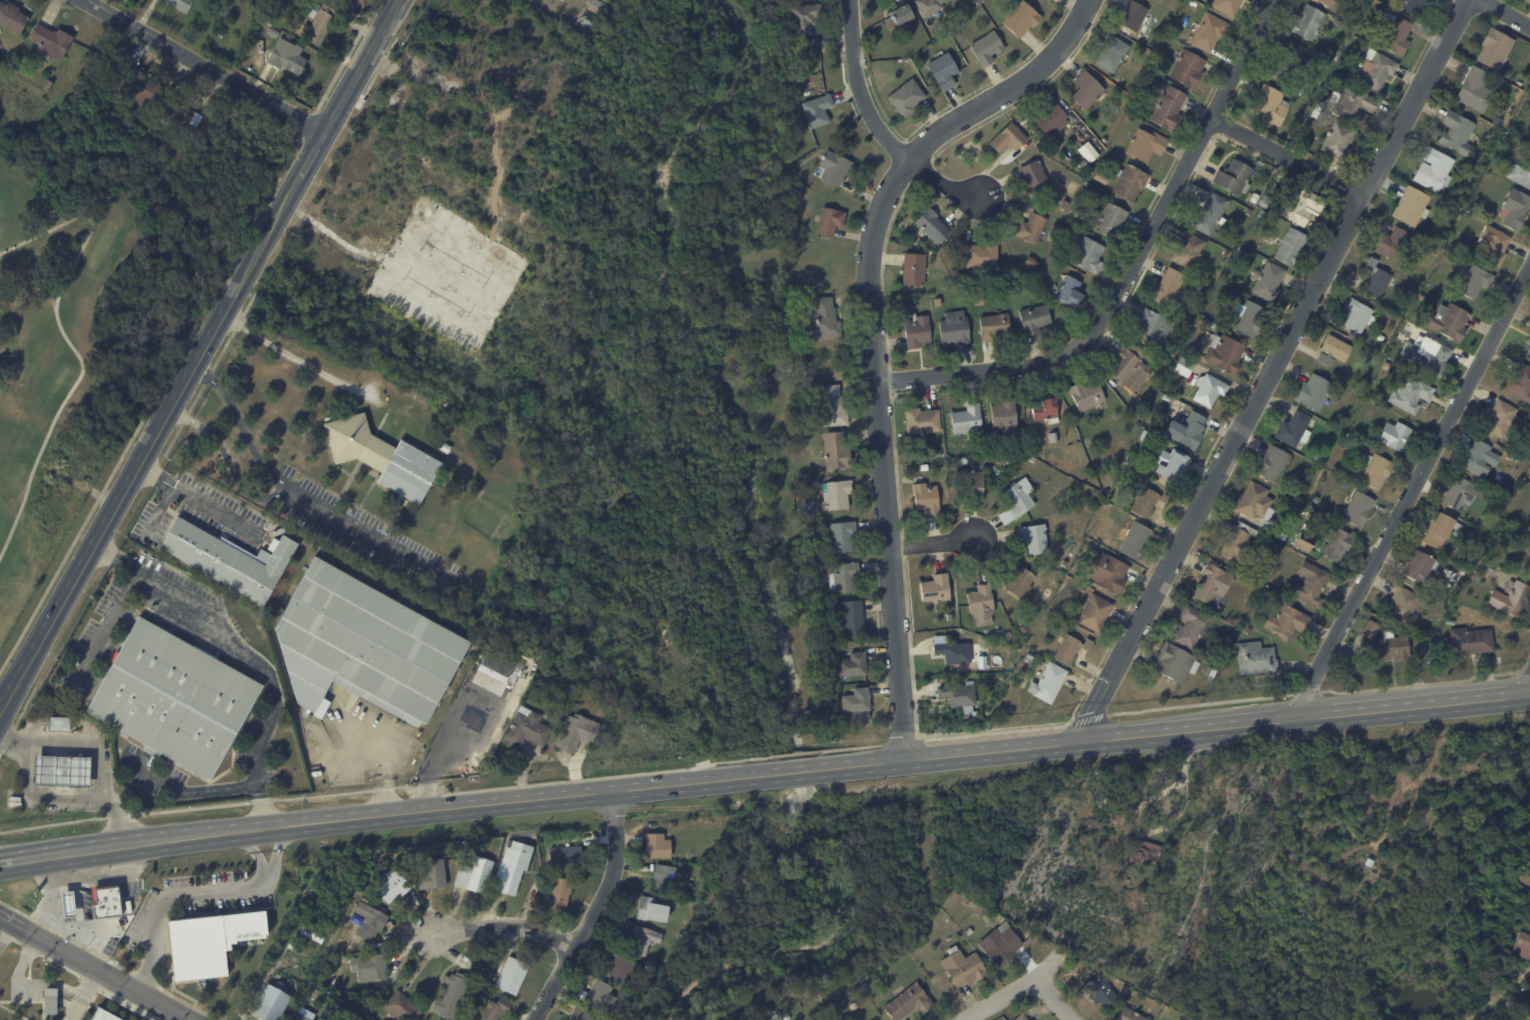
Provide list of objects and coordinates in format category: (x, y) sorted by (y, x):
building: (563, 0)
building: (1051, 0)
building: (978, 2)
building: (1328, 3)
building: (176, 4)
building: (1227, 6)
building: (221, 7)
building: (1415, 7)
building: (929, 8)
building: (310, 9)
road: (1510, 10)
building: (963, 11)
building: (592, 13)
building: (901, 16)
building: (1132, 16)
building: (11, 18)
building: (803, 19)
building: (1021, 20)
building: (565, 23)
building: (1309, 23)
building: (318, 26)
building: (264, 29)
building: (1209, 33)
building: (1395, 33)
building: (217, 35)
building: (780, 35)
building: (49, 43)
building: (810, 44)
building: (787, 46)
building: (1495, 48)
building: (986, 49)
building: (1141, 49)
building: (1111, 54)
building: (6, 58)
building: (286, 61)
building: (1289, 63)
building: (14, 65)
road: (201, 68)
building: (1188, 69)
building: (1375, 71)
building: (943, 72)
building: (1338, 78)
building: (48, 85)
road: (857, 87)
building: (137, 88)
building: (1475, 89)
building: (1086, 91)
building: (1305, 91)
building: (1505, 94)
building: (906, 99)
building: (1271, 106)
building: (1352, 106)
building: (1320, 108)
building: (1168, 110)
building: (817, 112)
building: (181, 113)
building: (1316, 115)
building: (1050, 120)
building: (1457, 132)
building: (1008, 139)
building: (1338, 142)
building: (1146, 146)
building: (1088, 153)
building: (1472, 153)
road: (1289, 158)
building: (834, 169)
building: (1434, 169)
building: (1520, 175)
building: (1033, 177)
building: (1234, 177)
building: (1468, 177)
building: (1101, 179)
road: (940, 180)
building: (1272, 182)
building: (1129, 183)
building: (1073, 188)
building: (1255, 198)
building: (1264, 200)
building: (1299, 203)
building: (1064, 206)
building: (1411, 206)
building: (1515, 209)
building: (1262, 213)
building: (1209, 214)
building: (1075, 215)
building: (830, 222)
building: (1111, 222)
building: (1056, 226)
building: (797, 227)
building: (932, 227)
building: (1031, 229)
building: (1435, 234)
building: (1051, 238)
building: (1393, 242)
building: (1494, 245)
building: (1291, 246)
building: (1424, 248)
building: (1188, 250)
building: (1241, 250)
building: (1227, 253)
building: (1089, 256)
building: (982, 258)
building: (1031, 264)
road: (1130, 268)
building: (913, 271)
building: (955, 274)
building: (1377, 279)
building: (1269, 281)
building: (1473, 281)
building: (1169, 287)
building: (1200, 292)
building: (1069, 293)
building: (937, 303)
building: (1358, 315)
building: (1251, 318)
building: (822, 319)
building: (1034, 320)
building: (1448, 321)
building: (1213, 325)
building: (1154, 327)
building: (994, 328)
building: (954, 329)
building: (917, 332)
road: (870, 333)
park: (48, 337)
building: (1381, 337)
road: (68, 342)
building: (1529, 342)
building: (1334, 350)
building: (1529, 350)
building: (1225, 353)
building: (1428, 355)
road: (198, 358)
road: (297, 358)
building: (1387, 365)
building: (1131, 366)
building: (1183, 366)
road: (1273, 373)
building: (1520, 383)
building: (1209, 389)
building: (1314, 392)
building: (1087, 395)
building: (1410, 395)
building: (1166, 398)
building: (831, 406)
building: (1045, 410)
building: (1141, 414)
building: (1004, 415)
building: (1151, 416)
building: (967, 419)
building: (1503, 419)
building: (922, 420)
road: (243, 422)
building: (1148, 423)
building: (1188, 430)
building: (1295, 430)
building: (1144, 433)
building: (1396, 436)
building: (1054, 437)
building: (444, 447)
building: (835, 450)
building: (935, 454)
road: (226, 456)
building: (383, 457)
building: (1318, 458)
building: (1480, 458)
building: (1273, 463)
building: (1172, 465)
building: (924, 467)
building: (1376, 471)
building: (445, 481)
building: (971, 481)
building: (818, 487)
building: (1459, 491)
building: (837, 495)
building: (1299, 496)
building: (926, 498)
road: (195, 499)
road: (1420, 499)
building: (1018, 500)
building: (1148, 501)
building: (1257, 505)
building: (1108, 506)
road: (159, 510)
building: (1359, 510)
parking lot: (204, 514)
building: (1311, 515)
building: (1485, 526)
building: (1474, 527)
building: (1442, 530)
road: (359, 532)
parking lot: (365, 535)
building: (1282, 535)
building: (841, 536)
building: (1035, 539)
building: (1135, 540)
building: (1239, 542)
road: (930, 543)
building: (1302, 545)
building: (1339, 546)
road: (115, 555)
building: (228, 560)
building: (1471, 560)
building: (1064, 563)
building: (1467, 564)
building: (1421, 566)
building: (1486, 570)
building: (1528, 571)
building: (1106, 572)
building: (1463, 572)
building: (843, 577)
building: (1019, 581)
building: (1213, 583)
building: (1310, 584)
building: (934, 586)
building: (1083, 588)
building: (1512, 598)
building: (981, 604)
building: (1403, 607)
building: (1095, 612)
building: (949, 617)
building: (851, 618)
building: (1288, 622)
building: (1452, 622)
road: (105, 625)
building: (1191, 627)
building: (1248, 630)
building: (1010, 635)
building: (1471, 641)
building: (1385, 644)
building: (363, 646)
building: (1071, 649)
building: (954, 653)
road: (245, 656)
building: (1030, 656)
building: (1256, 659)
building: (497, 663)
building: (1176, 663)
building: (852, 665)
building: (1210, 672)
building: (513, 676)
building: (1048, 684)
road: (1529, 692)
building: (958, 695)
building: (173, 698)
building: (856, 705)
building: (967, 716)
building: (57, 723)
road: (57, 723)
road: (29, 727)
building: (525, 728)
road: (88, 729)
road: (1181, 732)
building: (575, 733)
road: (445, 742)
road: (96, 752)
road: (377, 762)
building: (61, 771)
gas station: (61, 771)
road: (795, 771)
building: (1124, 778)
road: (188, 790)
road: (36, 798)
road: (1440, 802)
building: (15, 804)
road: (261, 805)
road: (384, 815)
building: (1115, 818)
building: (672, 824)
building: (711, 838)
building: (657, 845)
building: (474, 847)
building: (1145, 850)
road: (276, 854)
building: (566, 856)
road: (5, 862)
building: (511, 866)
building: (431, 873)
building: (473, 873)
building: (548, 874)
building: (663, 879)
building: (393, 885)
building: (137, 889)
road: (1246, 890)
building: (557, 894)
road: (192, 898)
building: (967, 900)
building: (105, 902)
building: (679, 902)
building: (651, 909)
road: (595, 910)
building: (370, 921)
building: (934, 924)
road: (509, 926)
road: (3, 930)
building: (969, 931)
building: (311, 934)
building: (642, 939)
building: (1001, 943)
building: (1522, 944)
building: (198, 948)
road: (77, 962)
building: (370, 966)
building: (650, 966)
building: (963, 966)
building: (618, 967)
building: (330, 970)
building: (509, 974)
road: (1018, 989)
building: (1101, 990)
building: (597, 992)
building: (452, 995)
road: (84, 996)
road: (1056, 998)
building: (49, 1000)
building: (908, 1002)
building: (269, 1003)
road: (1484, 1003)
building: (854, 1005)
building: (401, 1006)
building: (494, 1009)
road: (172, 1011)
building: (581, 1013)
building: (774, 1014)
building: (1131, 1014)
building: (103, 1015)
building: (301, 1016)
building: (786, 1016)
building: (1022, 1017)
building: (876, 1019)
building: (1031, 1019)

